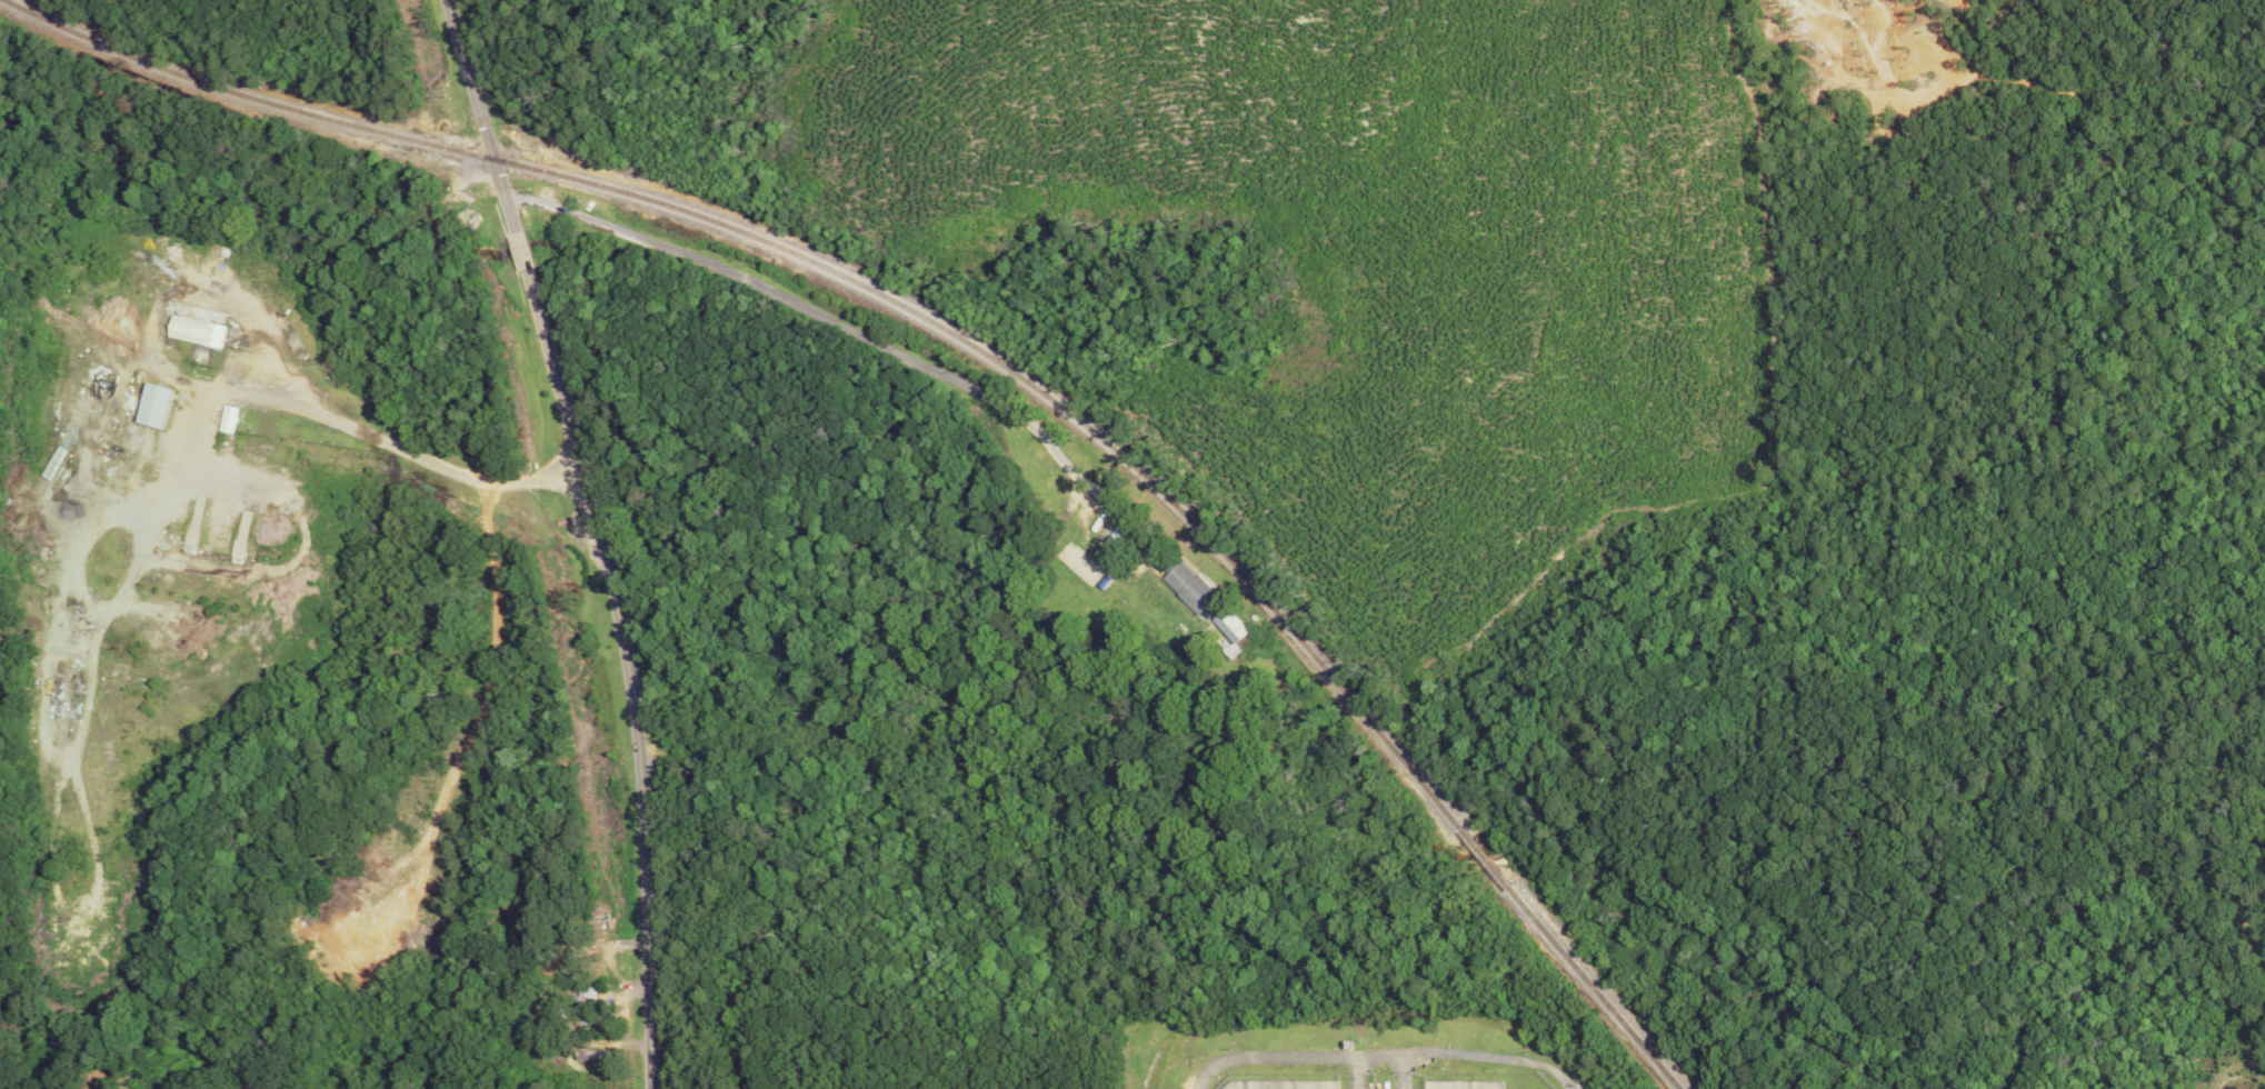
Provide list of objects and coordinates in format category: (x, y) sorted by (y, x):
road: (480, 114)
road: (518, 251)
road: (845, 326)
building: (192, 331)
railway: (971, 346)
building: (148, 406)
building: (226, 419)
road: (466, 486)
building: (1187, 587)
building: (1228, 626)
road: (628, 673)
road: (1380, 1053)
building: (587, 1055)

